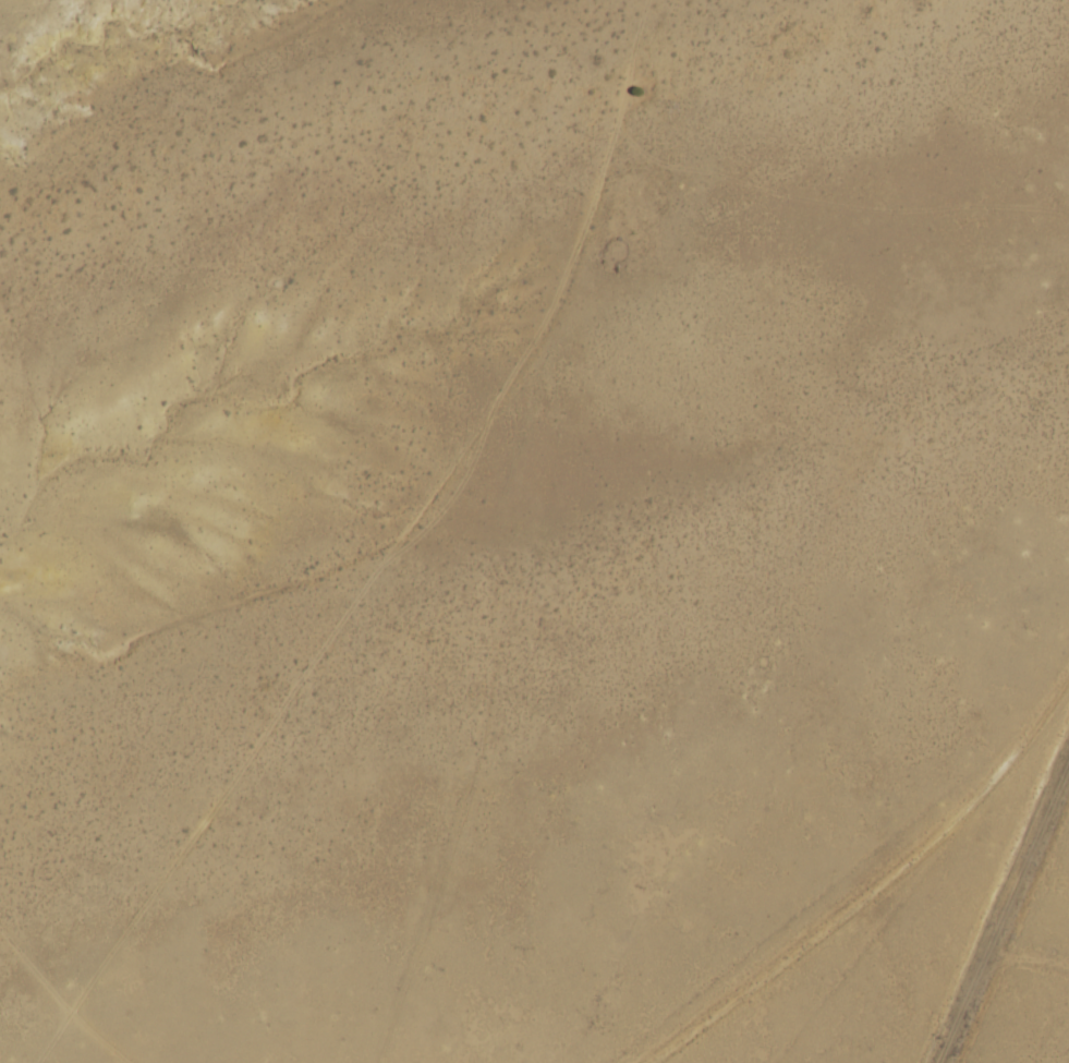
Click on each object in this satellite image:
road: (836, 874)
road: (1008, 909)

